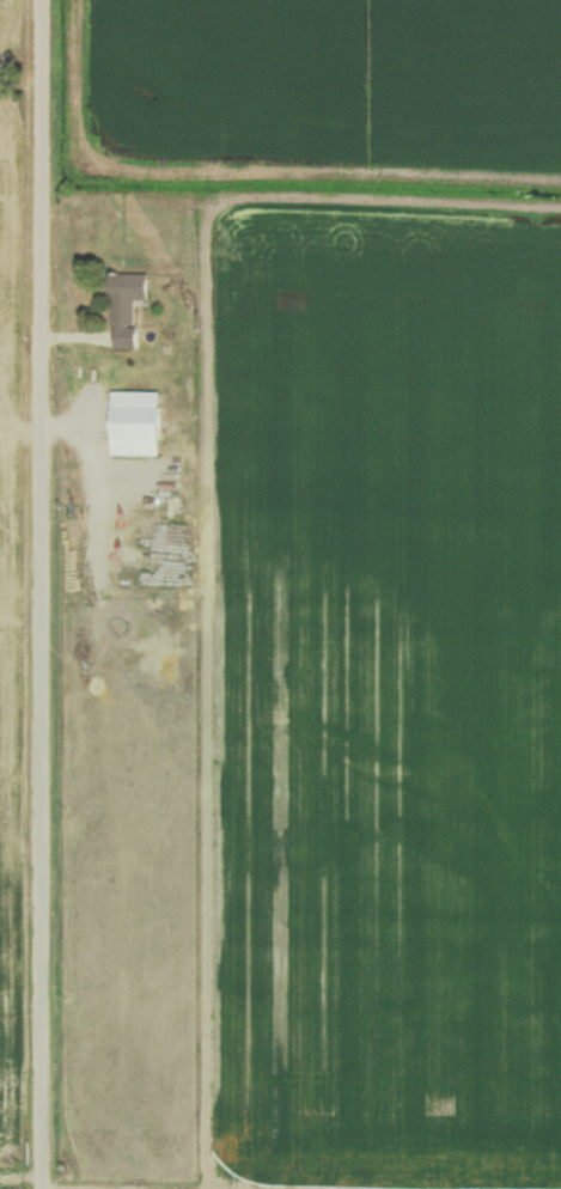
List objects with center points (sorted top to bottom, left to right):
building: (128, 307)
building: (139, 423)
road: (43, 593)
road: (23, 1179)

